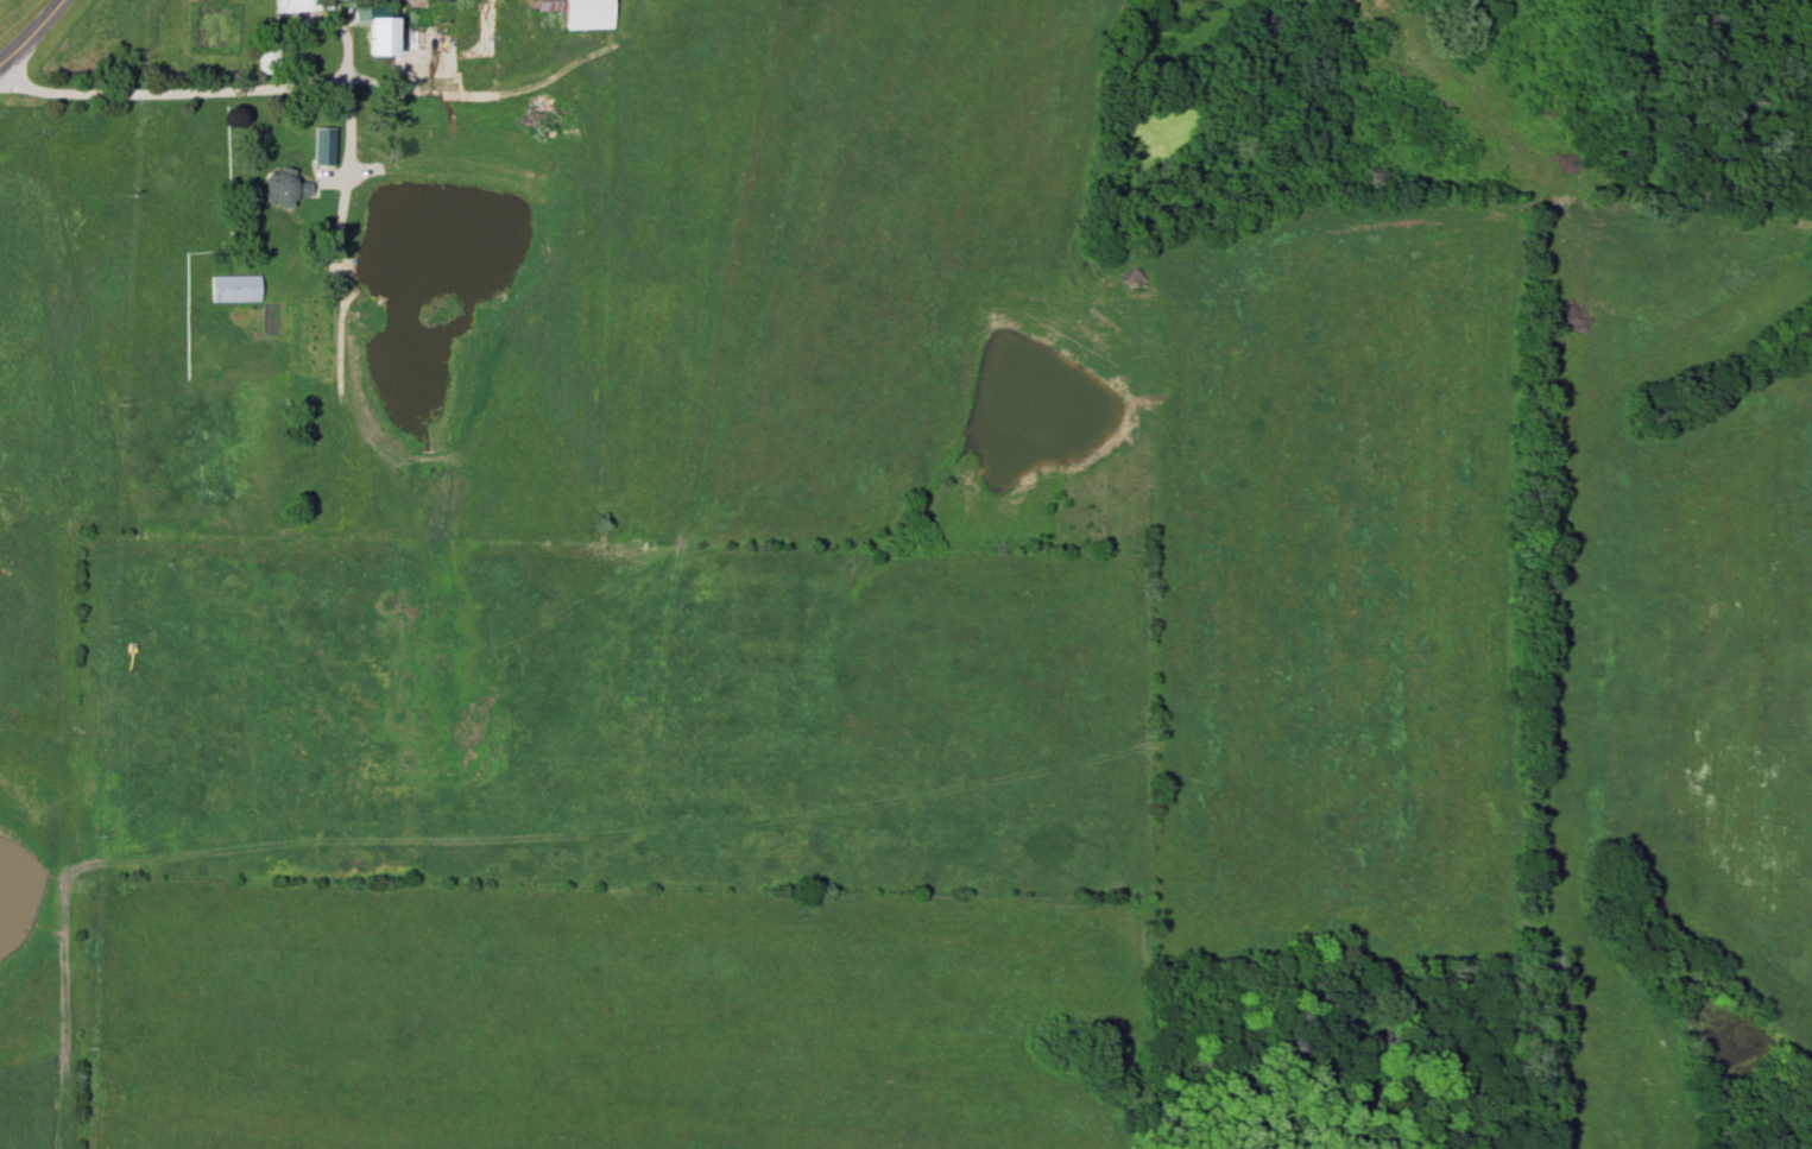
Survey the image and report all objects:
building: (303, 6)
building: (589, 15)
building: (381, 30)
road: (32, 32)
road: (223, 90)
building: (284, 190)
building: (235, 290)

